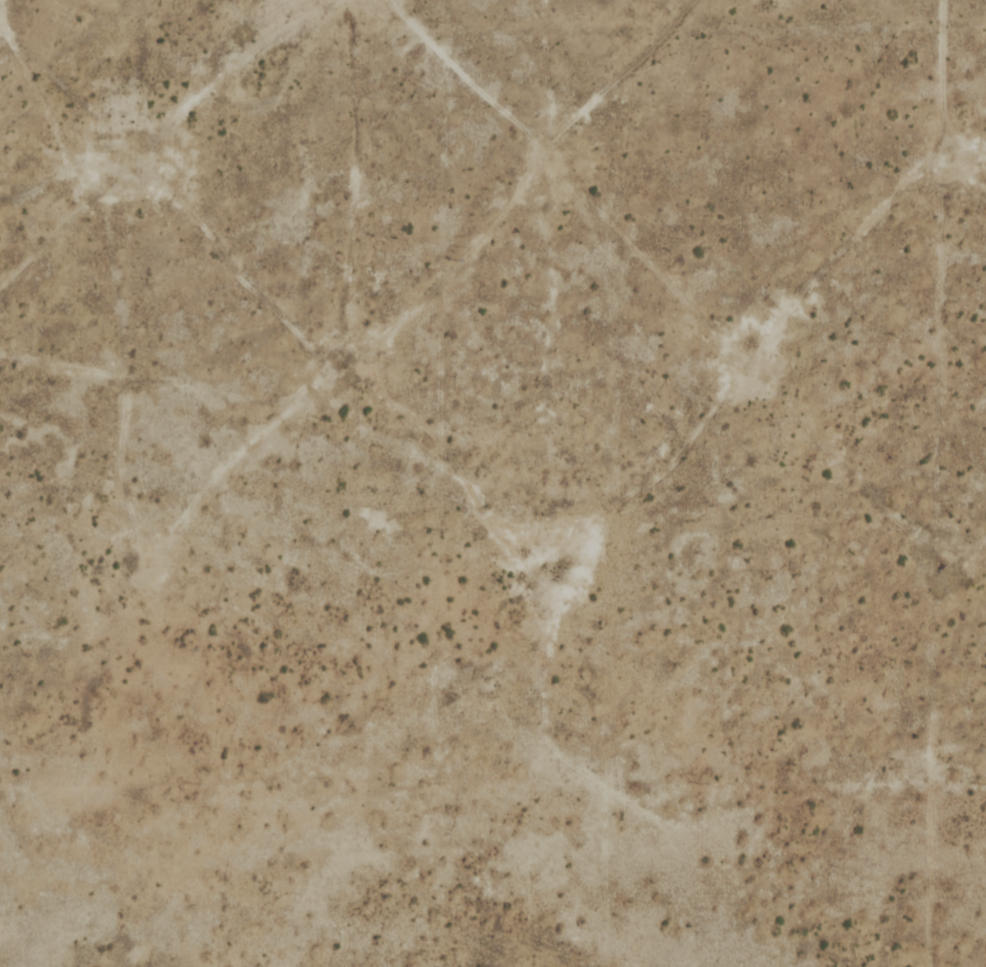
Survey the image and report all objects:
road: (862, 15)
road: (165, 127)
road: (507, 198)
road: (679, 309)
road: (97, 322)
road: (51, 367)
road: (923, 483)
road: (503, 531)

